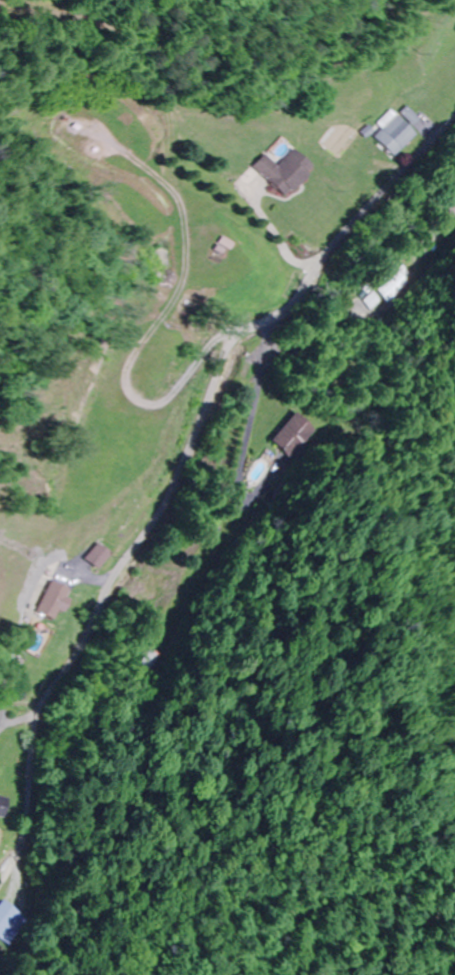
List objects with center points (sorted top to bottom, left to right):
building: (397, 135)
building: (287, 171)
building: (452, 214)
building: (393, 283)
road: (157, 382)
building: (292, 435)
building: (150, 659)
building: (4, 805)
building: (8, 923)

